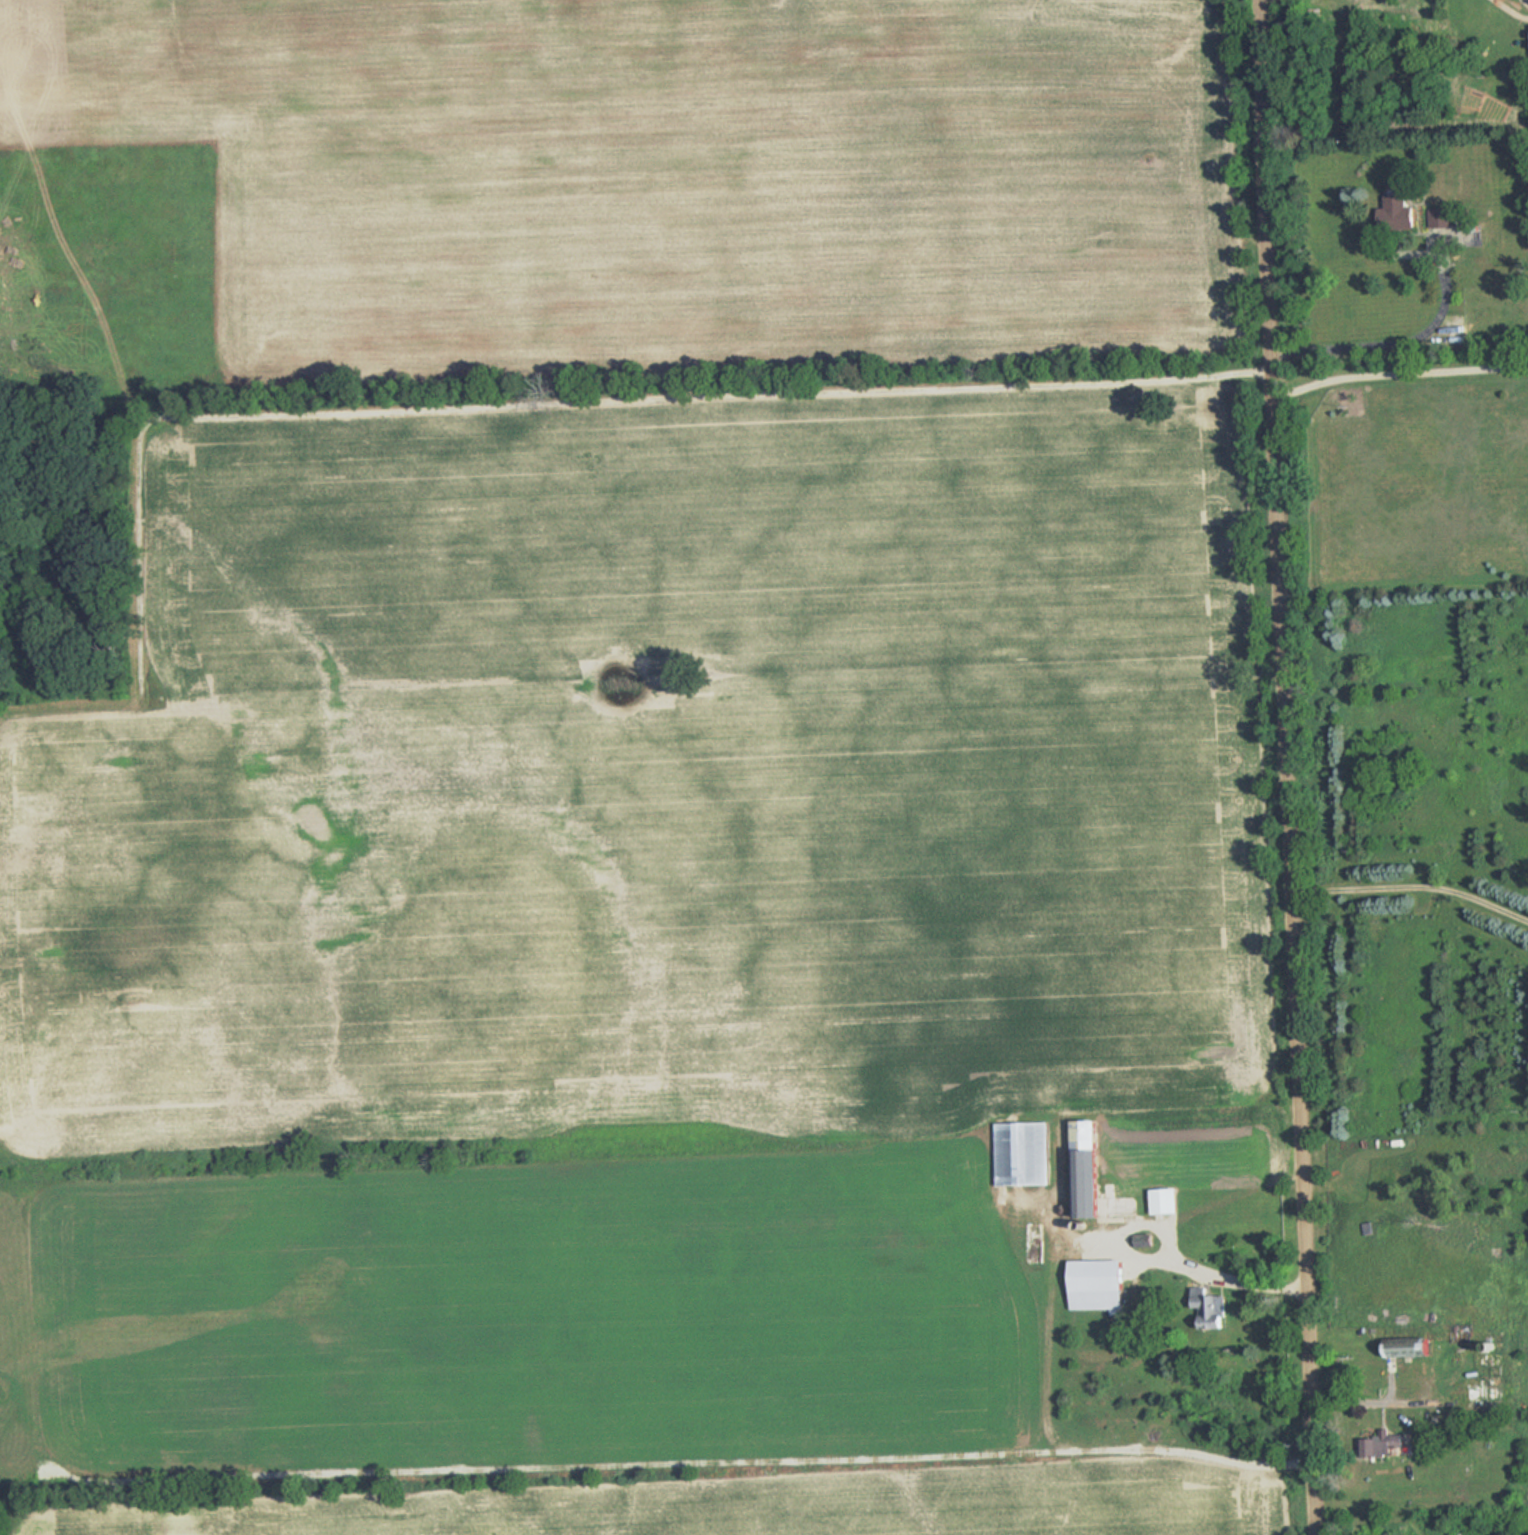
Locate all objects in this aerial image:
road: (1510, 10)
building: (1395, 212)
building: (1443, 217)
road: (1380, 347)
road: (1392, 376)
road: (1276, 767)
road: (1407, 879)
building: (1021, 1153)
building: (1084, 1168)
building: (1163, 1200)
road: (1131, 1245)
building: (1096, 1284)
building: (1209, 1308)
building: (1407, 1346)
building: (1101, 1356)
building: (1491, 1373)
road: (1384, 1403)
building: (1379, 1443)

